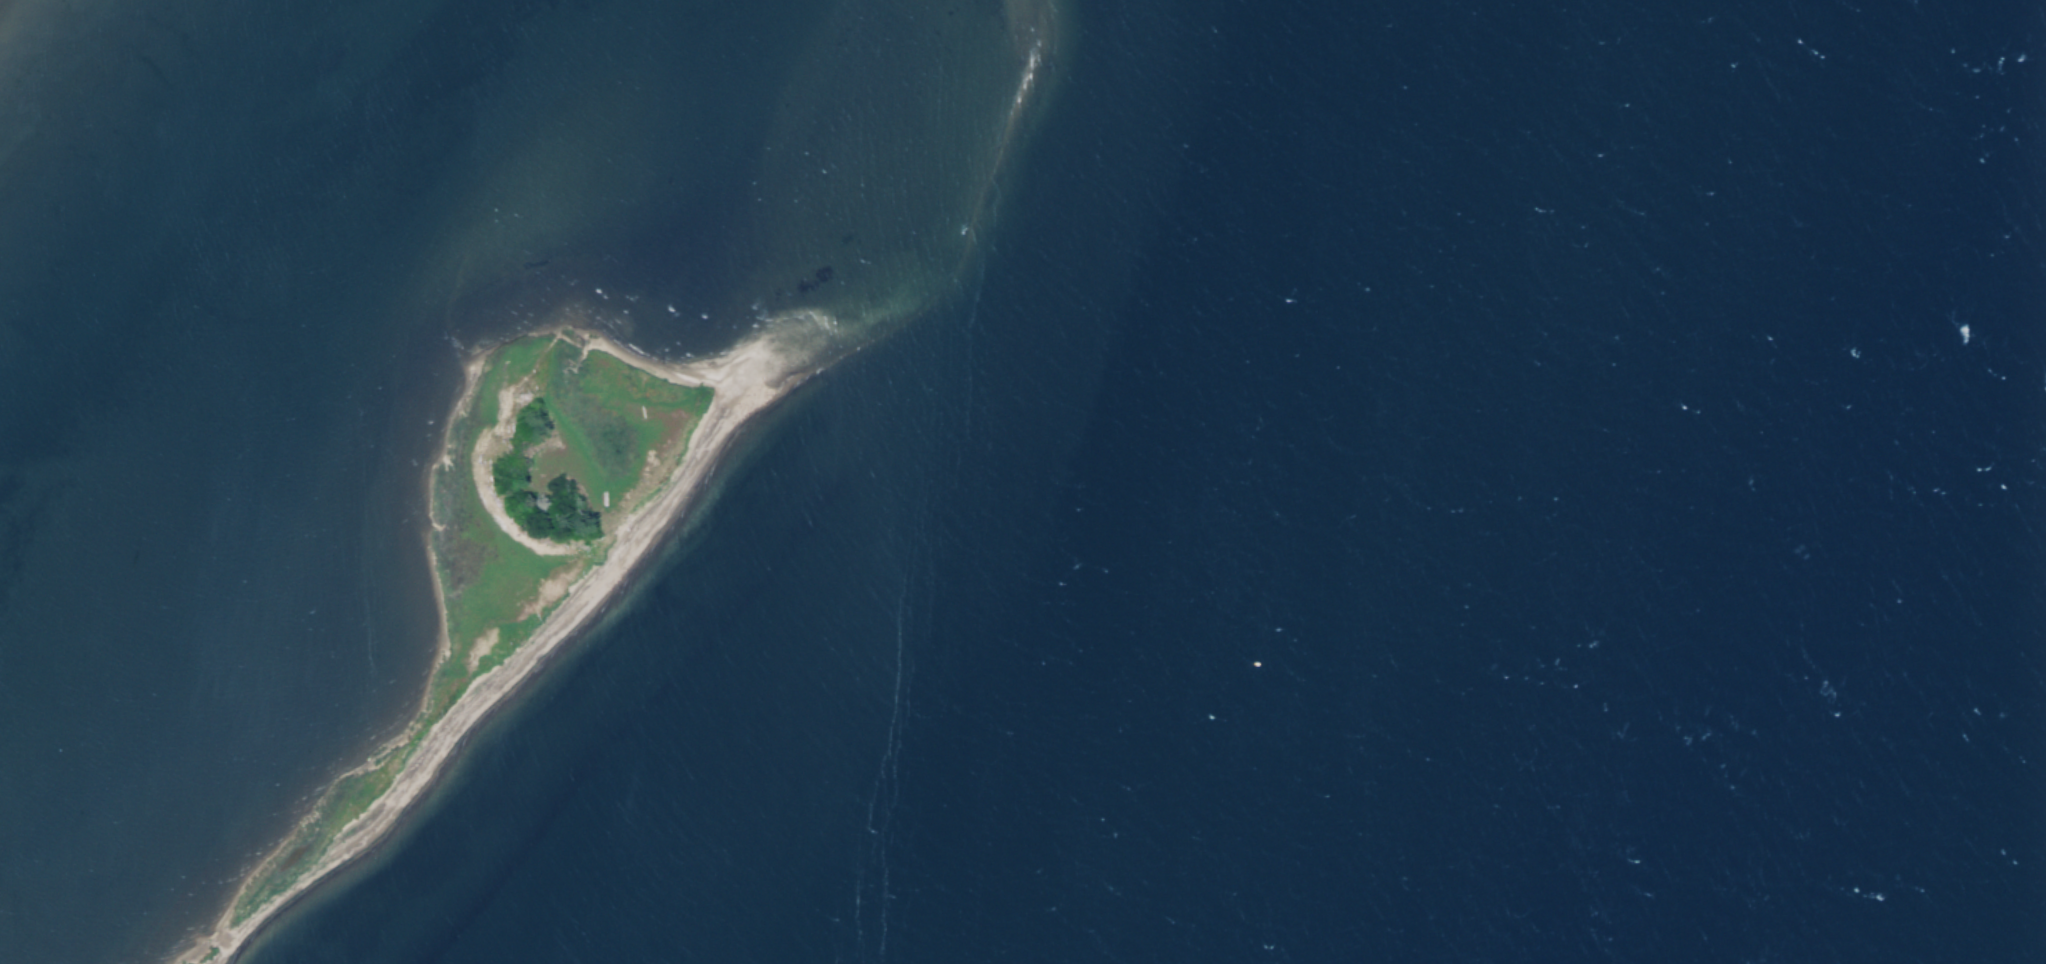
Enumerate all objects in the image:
river: (1845, 490)

